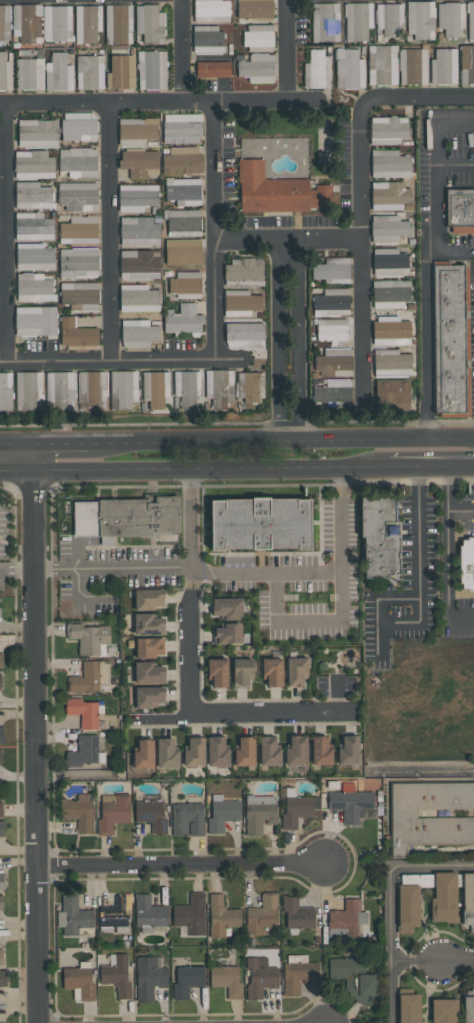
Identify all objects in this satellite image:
building: (254, 9)
building: (211, 11)
building: (450, 18)
building: (420, 19)
building: (471, 20)
building: (358, 21)
building: (325, 22)
building: (4, 23)
building: (27, 23)
building: (57, 23)
building: (87, 24)
building: (118, 24)
building: (150, 24)
building: (259, 38)
building: (208, 39)
road: (182, 51)
road: (287, 51)
building: (467, 64)
building: (382, 65)
building: (413, 66)
building: (443, 66)
building: (257, 68)
building: (213, 69)
building: (349, 69)
building: (152, 70)
building: (90, 72)
building: (121, 72)
building: (5, 73)
building: (58, 73)
building: (29, 74)
road: (160, 103)
road: (429, 119)
building: (79, 126)
building: (182, 128)
building: (388, 130)
building: (136, 131)
building: (37, 133)
building: (182, 160)
building: (78, 162)
building: (139, 163)
building: (390, 164)
building: (33, 165)
road: (430, 187)
building: (183, 191)
building: (276, 191)
building: (32, 196)
building: (78, 196)
road: (359, 196)
building: (389, 196)
building: (137, 197)
building: (461, 210)
building: (184, 223)
building: (33, 226)
building: (387, 229)
building: (79, 230)
road: (215, 230)
building: (139, 231)
road: (109, 232)
road: (5, 233)
road: (287, 240)
building: (185, 253)
building: (34, 257)
building: (389, 262)
building: (79, 263)
building: (138, 265)
building: (332, 270)
building: (243, 272)
building: (186, 284)
building: (35, 287)
building: (390, 294)
building: (80, 295)
building: (138, 298)
building: (331, 302)
building: (240, 303)
building: (183, 320)
building: (35, 321)
road: (425, 321)
building: (332, 329)
building: (391, 331)
building: (76, 333)
building: (138, 333)
building: (245, 335)
road: (289, 340)
building: (449, 341)
road: (230, 358)
road: (110, 360)
road: (3, 362)
building: (333, 363)
building: (392, 363)
building: (250, 387)
building: (155, 388)
building: (92, 389)
building: (123, 389)
building: (204, 389)
building: (5, 391)
building: (60, 391)
building: (333, 394)
building: (392, 395)
road: (280, 441)
road: (60, 443)
road: (16, 444)
road: (432, 469)
road: (195, 471)
road: (461, 511)
building: (128, 518)
road: (192, 520)
road: (343, 521)
building: (261, 526)
road: (419, 534)
building: (381, 541)
road: (75, 551)
road: (448, 557)
building: (466, 563)
road: (113, 569)
road: (17, 571)
road: (193, 572)
road: (343, 581)
road: (83, 594)
road: (404, 599)
building: (0, 614)
building: (226, 629)
building: (90, 639)
building: (150, 650)
building: (1, 660)
park: (338, 660)
building: (90, 678)
building: (0, 681)
road: (337, 694)
building: (83, 712)
road: (205, 712)
road: (161, 720)
road: (35, 733)
building: (1, 734)
building: (247, 751)
building: (85, 752)
building: (1, 757)
road: (423, 772)
building: (350, 803)
building: (295, 807)
building: (1, 809)
building: (79, 812)
building: (151, 812)
building: (113, 813)
building: (222, 813)
building: (259, 813)
building: (430, 815)
building: (187, 819)
building: (2, 828)
road: (181, 865)
building: (2, 881)
building: (444, 898)
building: (468, 900)
building: (1, 903)
road: (389, 904)
building: (408, 907)
building: (149, 912)
building: (191, 914)
building: (297, 914)
building: (115, 916)
building: (221, 916)
building: (263, 916)
building: (74, 918)
building: (348, 922)
building: (1, 955)
road: (456, 961)
road: (414, 962)
building: (300, 973)
building: (116, 975)
building: (149, 977)
building: (354, 978)
building: (2, 979)
building: (259, 979)
building: (187, 980)
building: (226, 980)
building: (79, 982)
building: (409, 1008)
building: (468, 1009)
building: (444, 1010)

